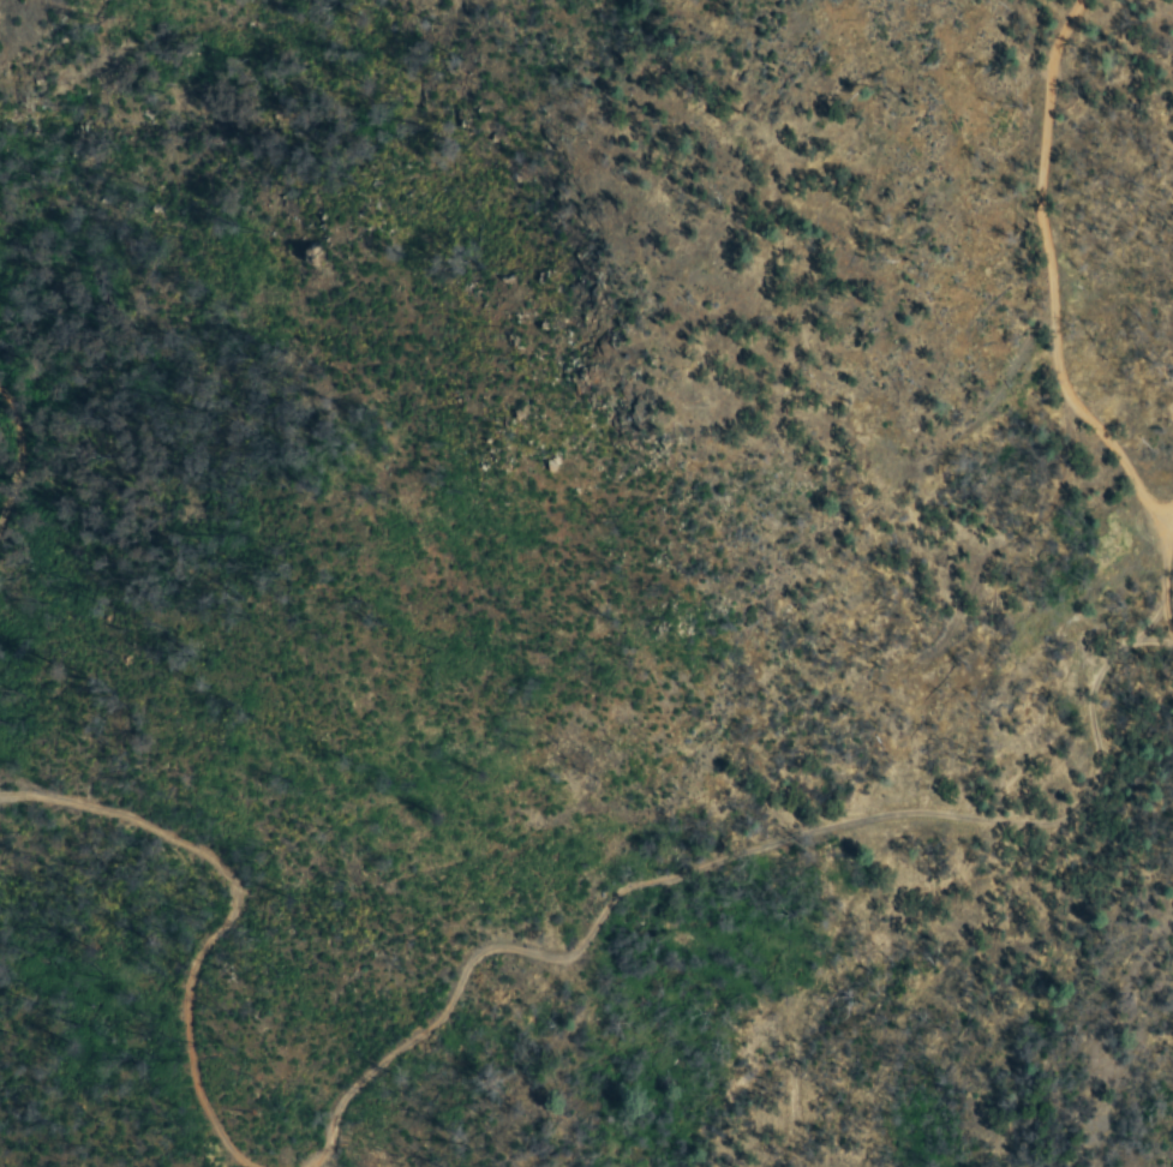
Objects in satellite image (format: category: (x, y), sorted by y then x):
road: (1042, 282)
road: (1162, 533)
road: (759, 834)
road: (229, 908)

